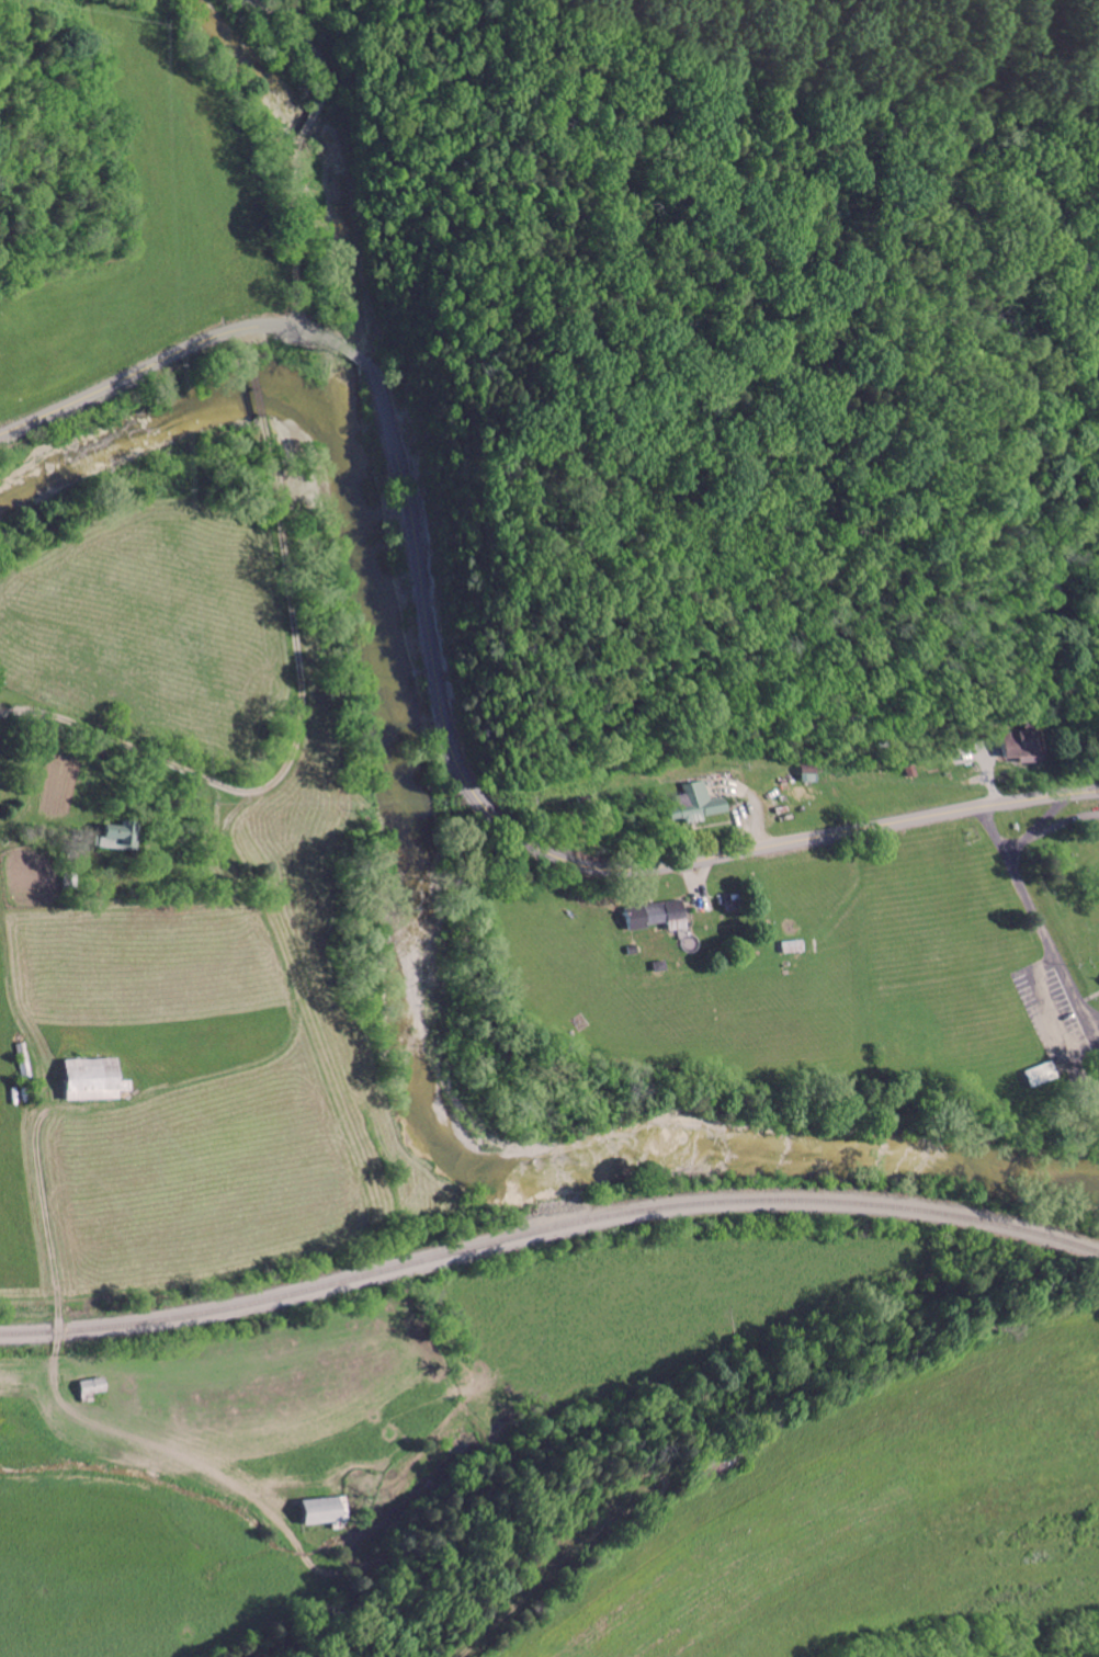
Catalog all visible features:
road: (302, 143)
road: (298, 701)
road: (442, 703)
building: (752, 779)
building: (172, 814)
road: (1043, 821)
park: (1072, 890)
building: (696, 892)
road: (1042, 919)
railway: (547, 1226)
building: (376, 1488)

